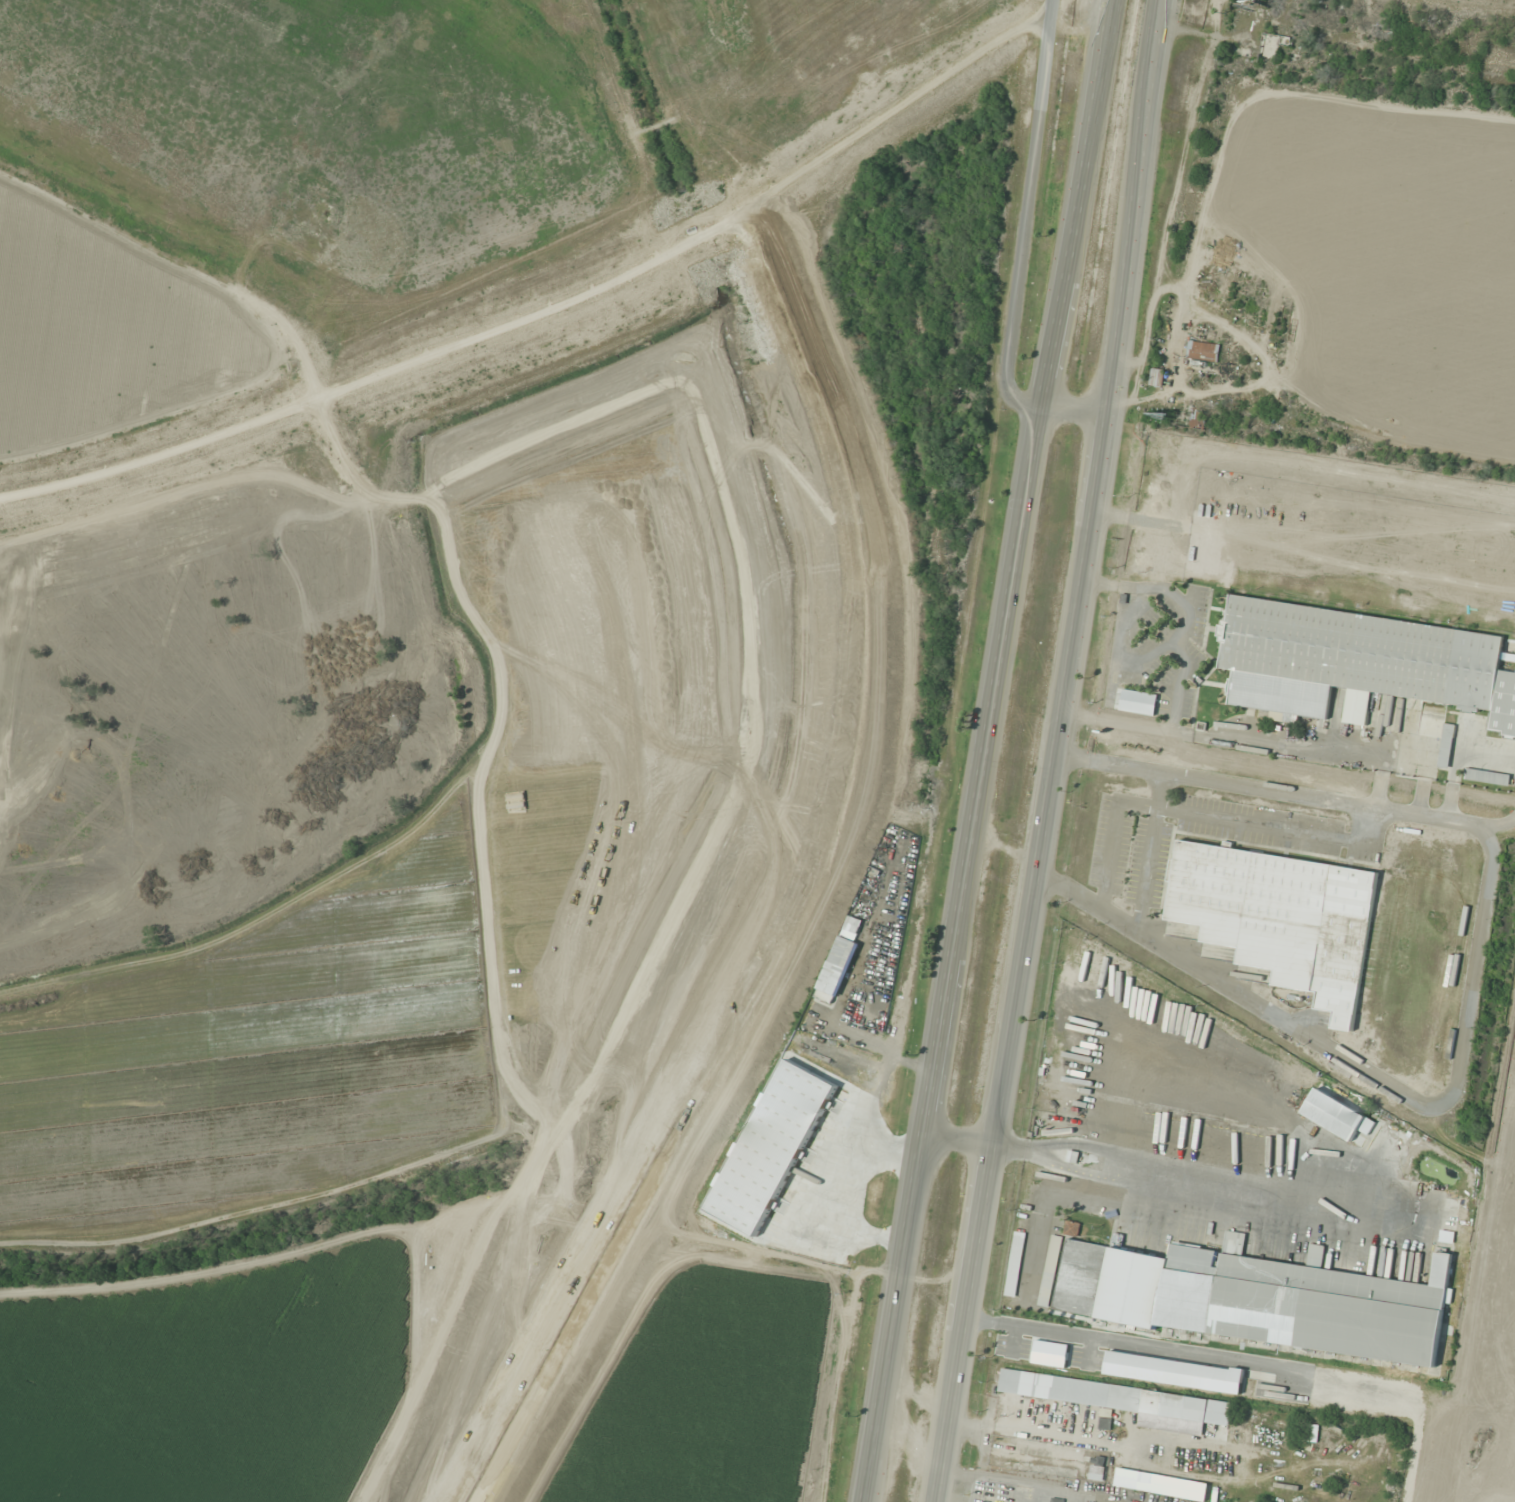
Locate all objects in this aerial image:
building: (1271, 45)
building: (1240, 52)
road: (898, 109)
road: (1024, 217)
building: (1202, 351)
building: (1154, 377)
road: (382, 379)
road: (1075, 409)
building: (1191, 419)
building: (1372, 657)
road: (865, 672)
building: (1138, 702)
road: (1047, 750)
road: (992, 751)
building: (1280, 917)
building: (1072, 1228)
road: (639, 1245)
building: (1257, 1298)
building: (1006, 1382)
building: (1187, 1409)
building: (1106, 1412)
road: (524, 1431)
building: (1018, 1490)
building: (1056, 1500)

